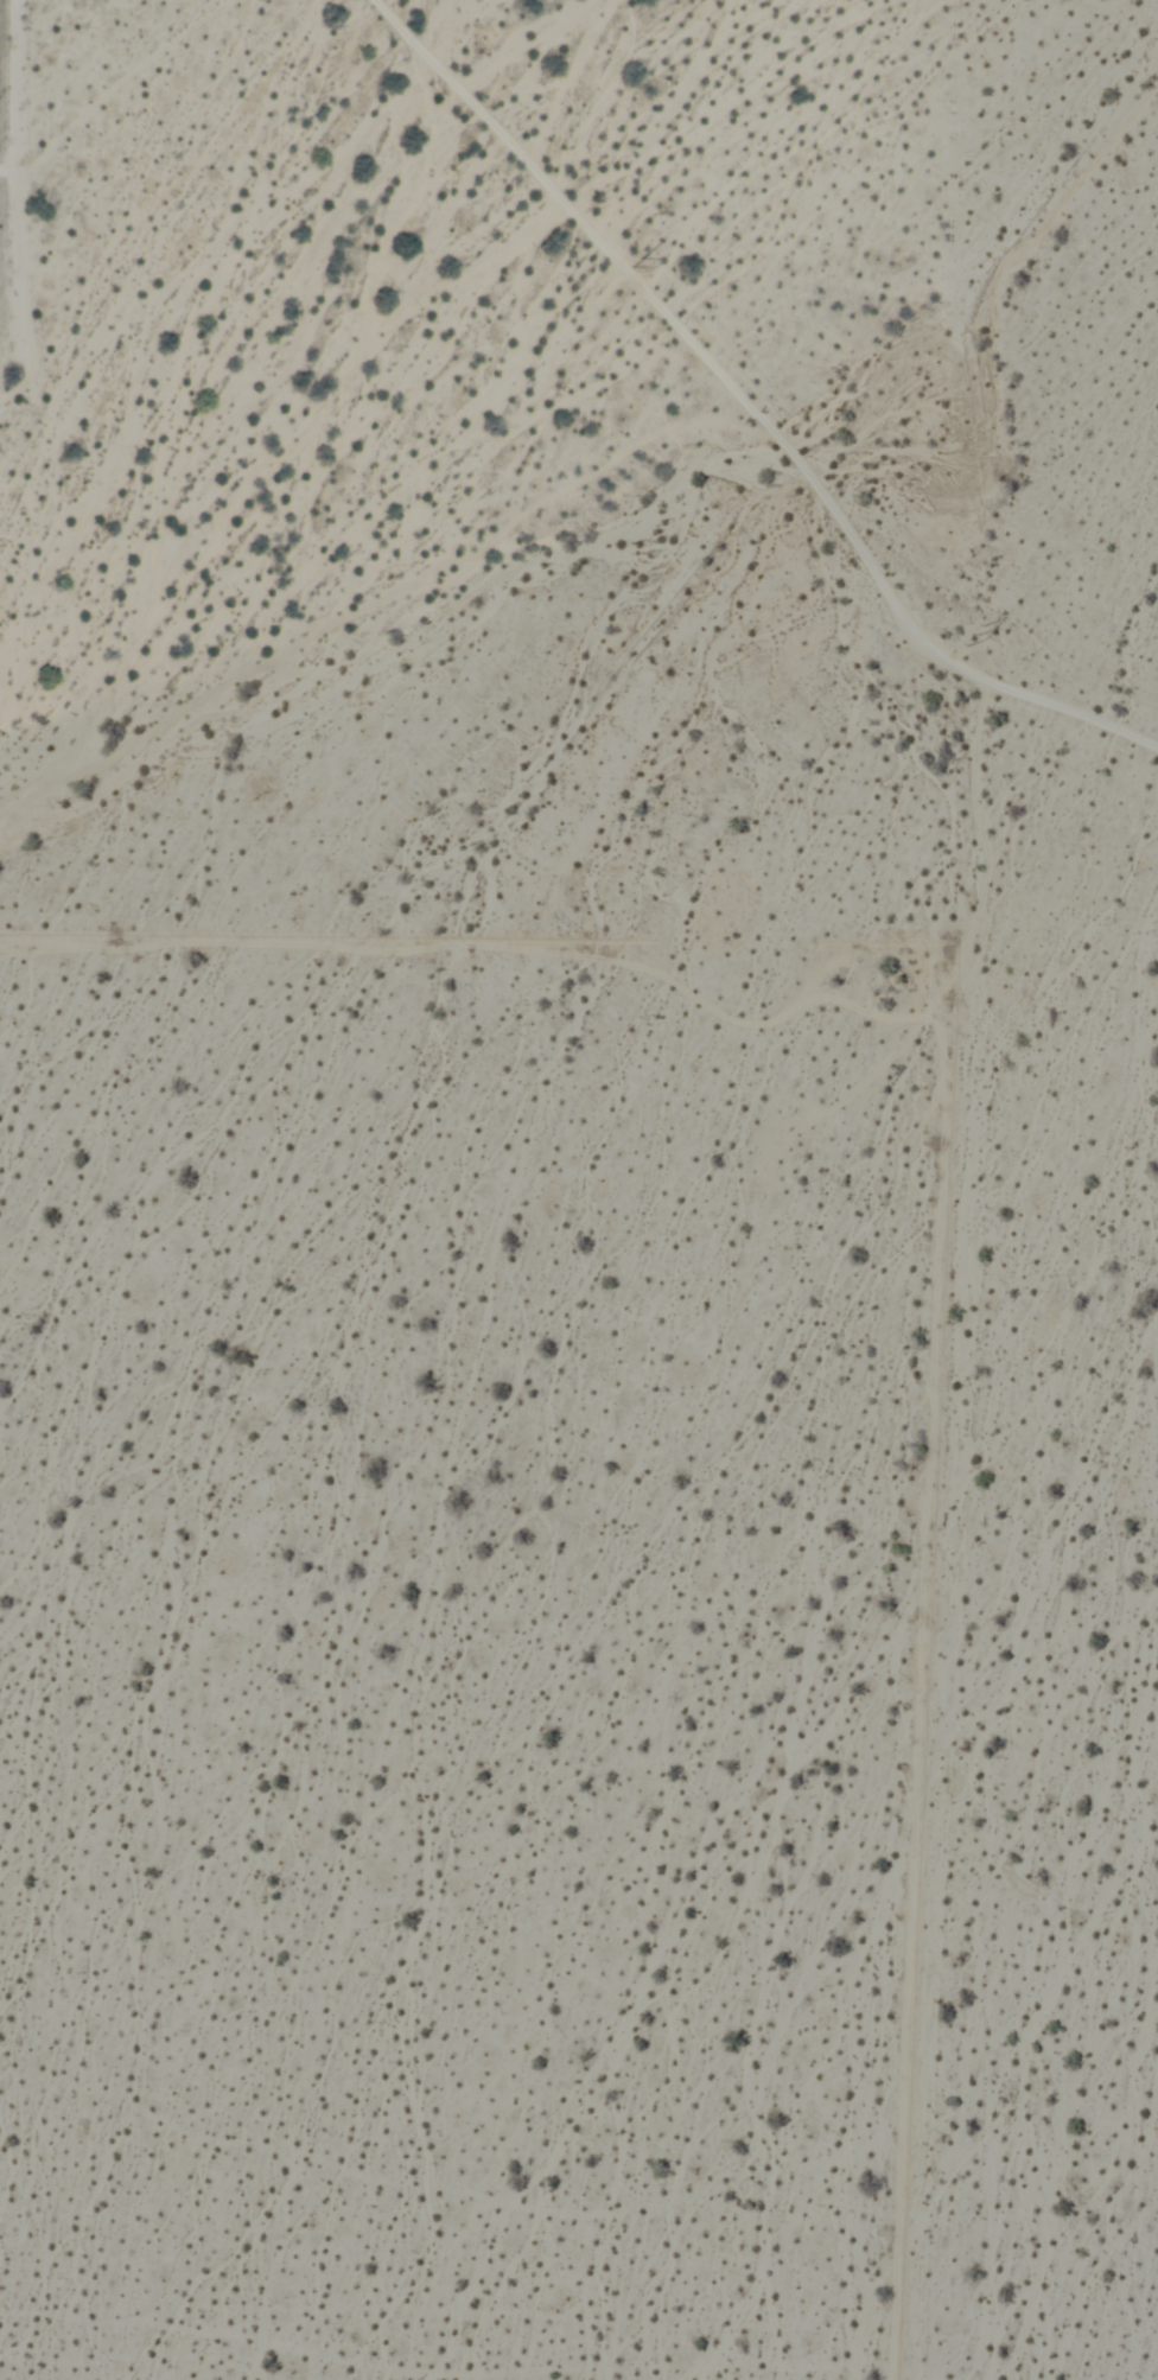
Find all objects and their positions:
power tower: (634, 257)
power tower: (967, 630)

